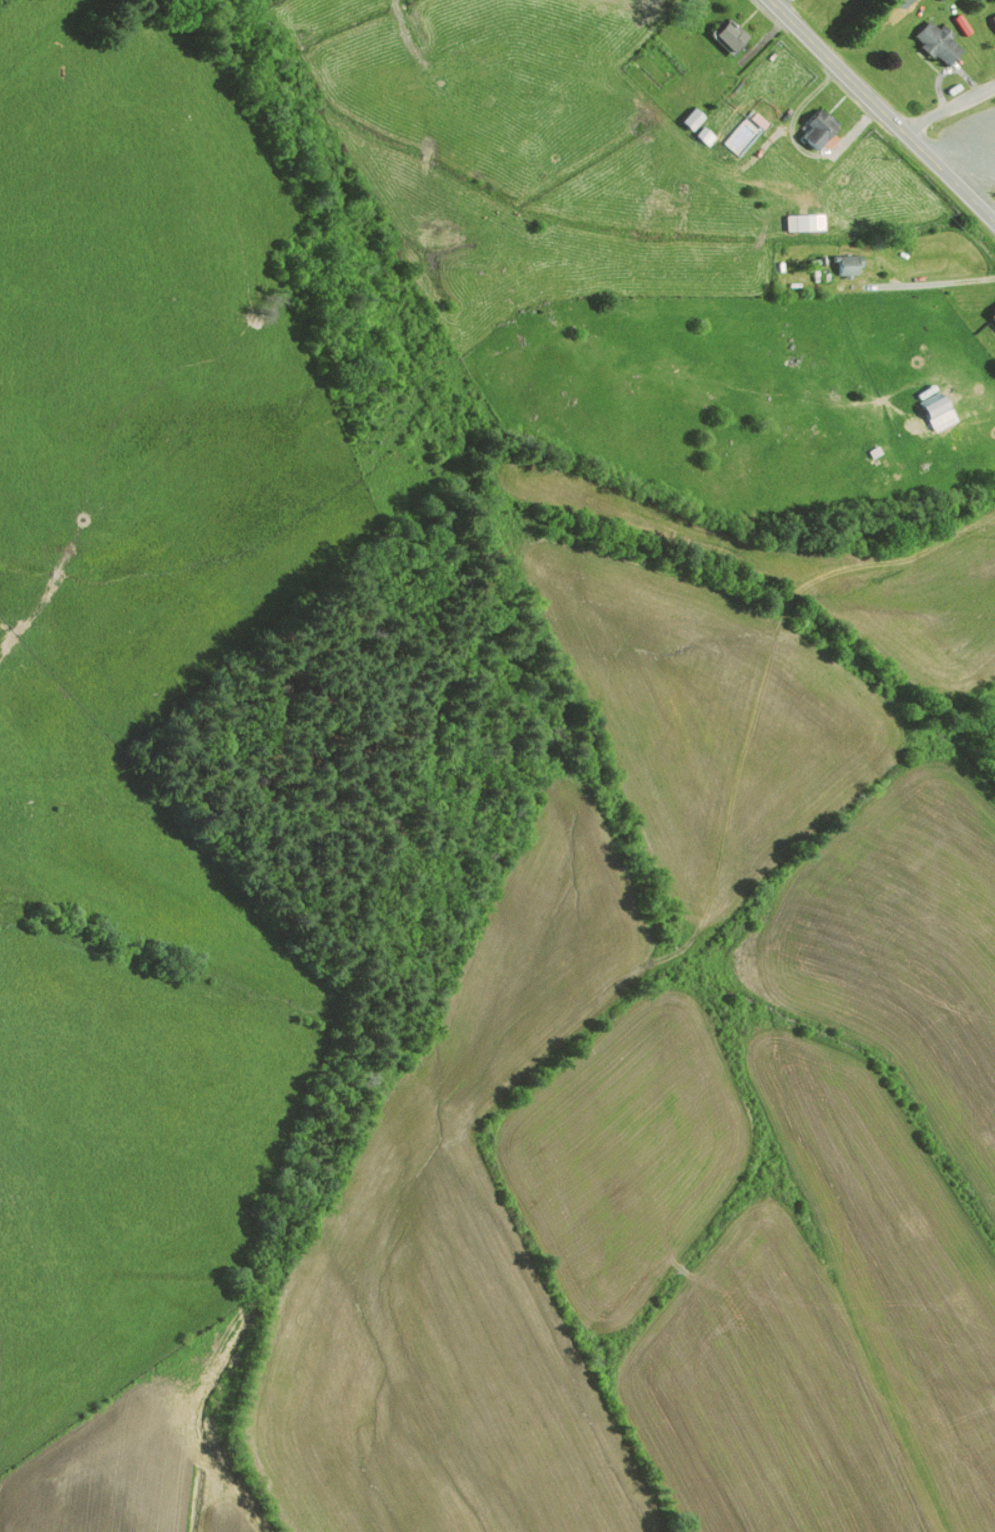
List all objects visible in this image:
road: (949, 110)
road: (882, 111)
road: (740, 808)

